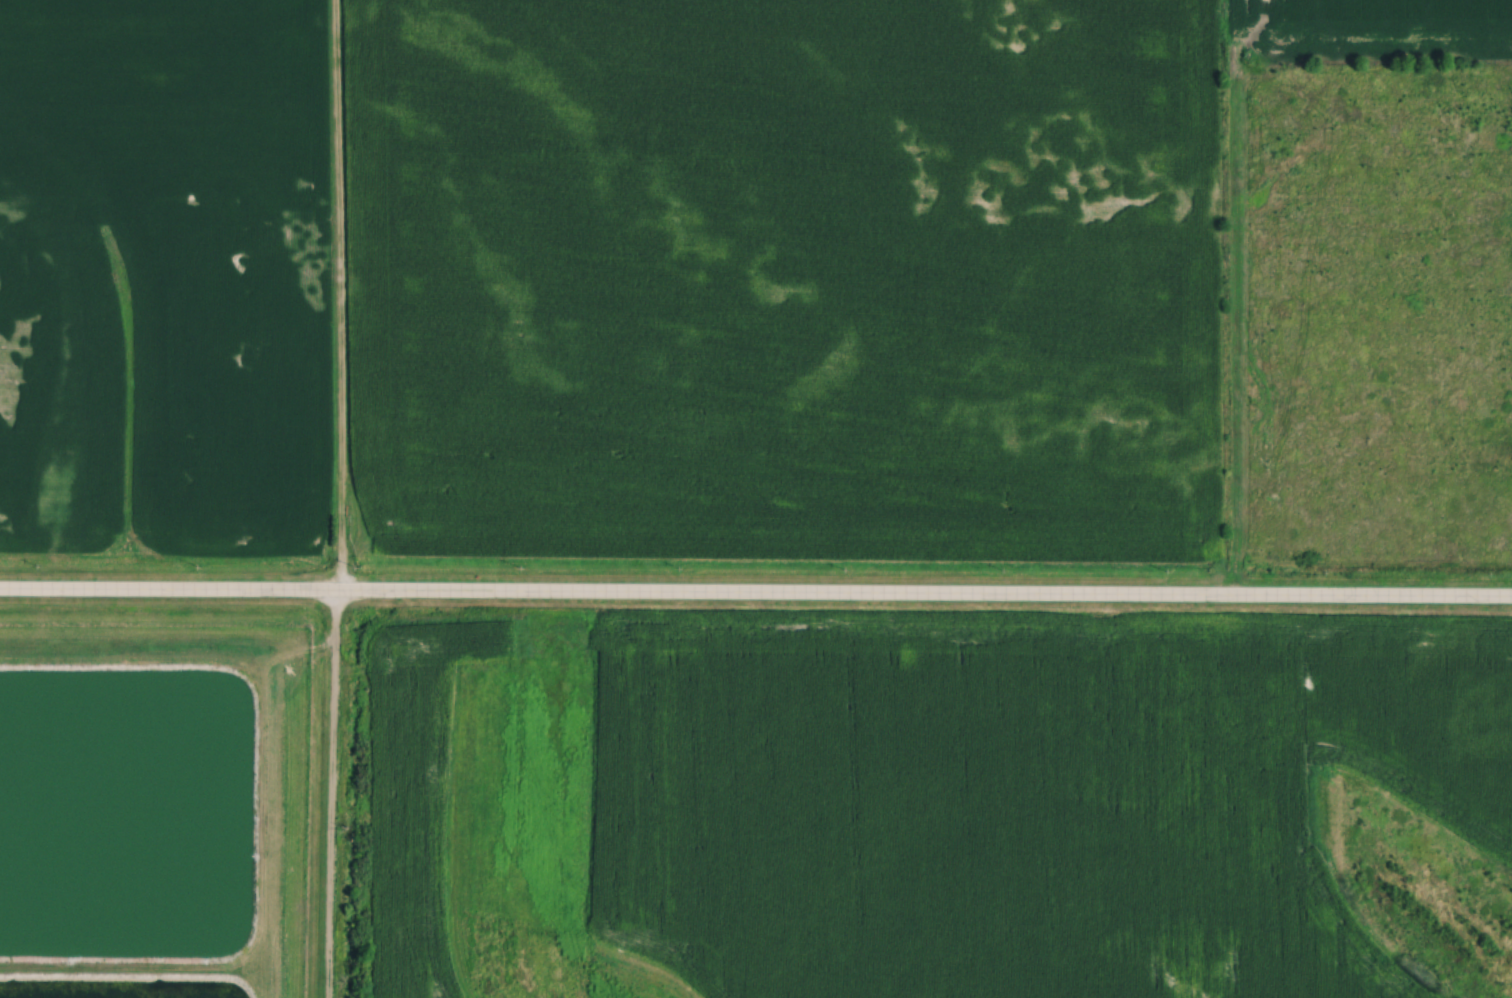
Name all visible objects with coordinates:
road: (339, 293)
road: (756, 591)
road: (335, 793)

